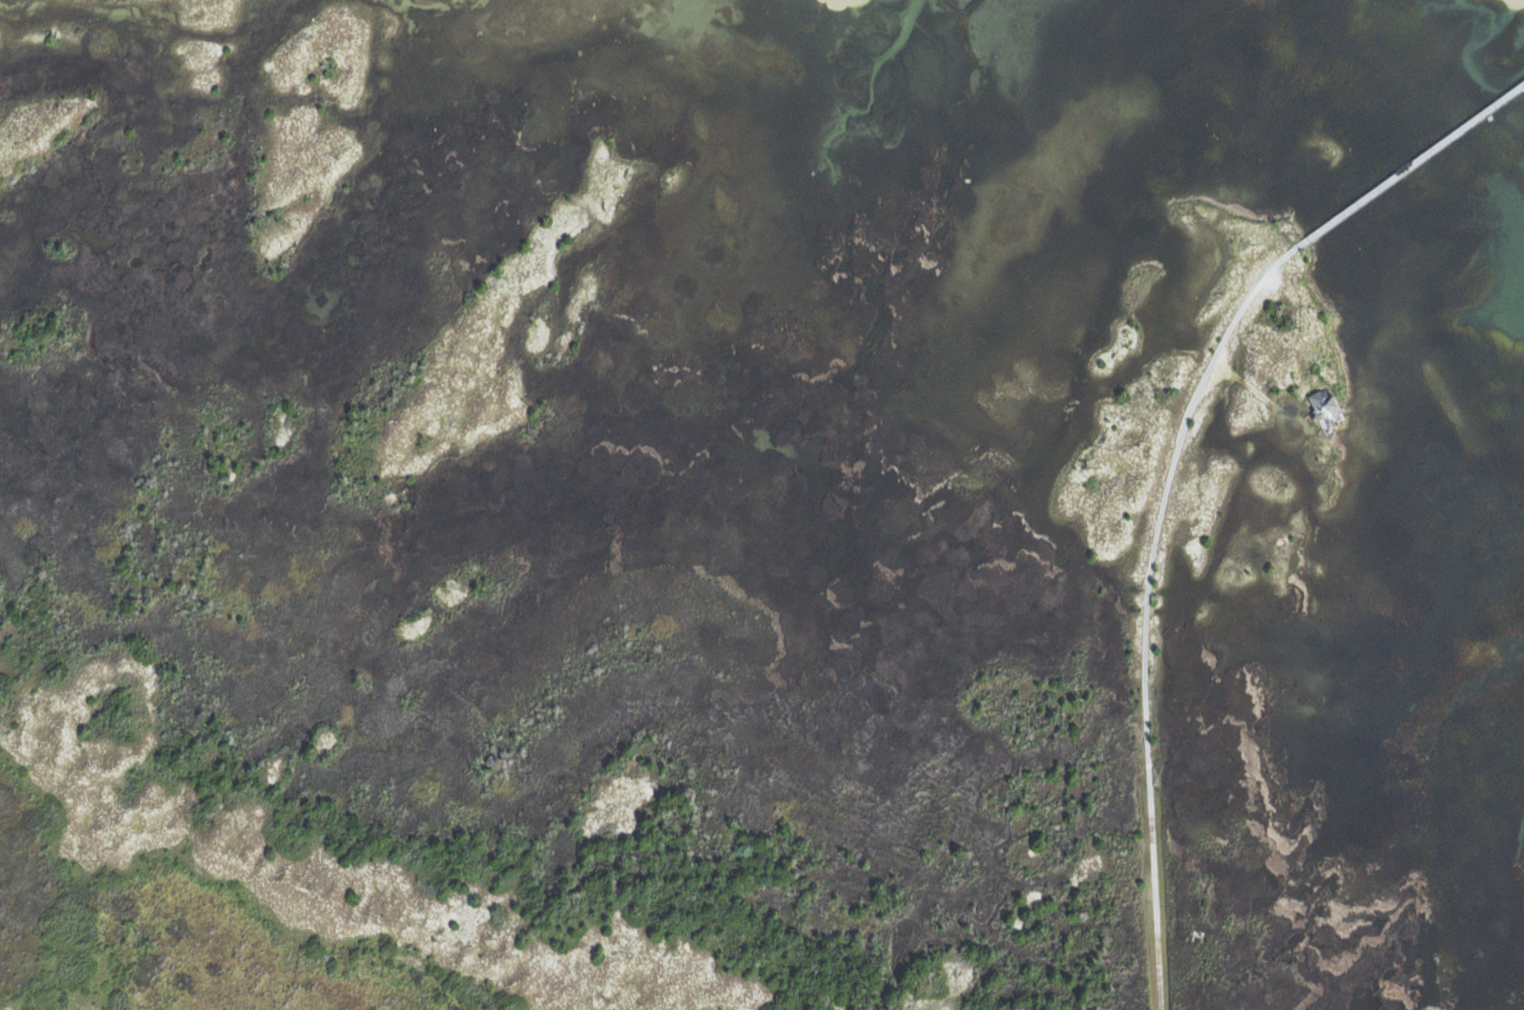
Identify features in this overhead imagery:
pier: (1410, 164)
pier: (1410, 164)
road: (1261, 395)
building: (1326, 403)
road: (1146, 609)

